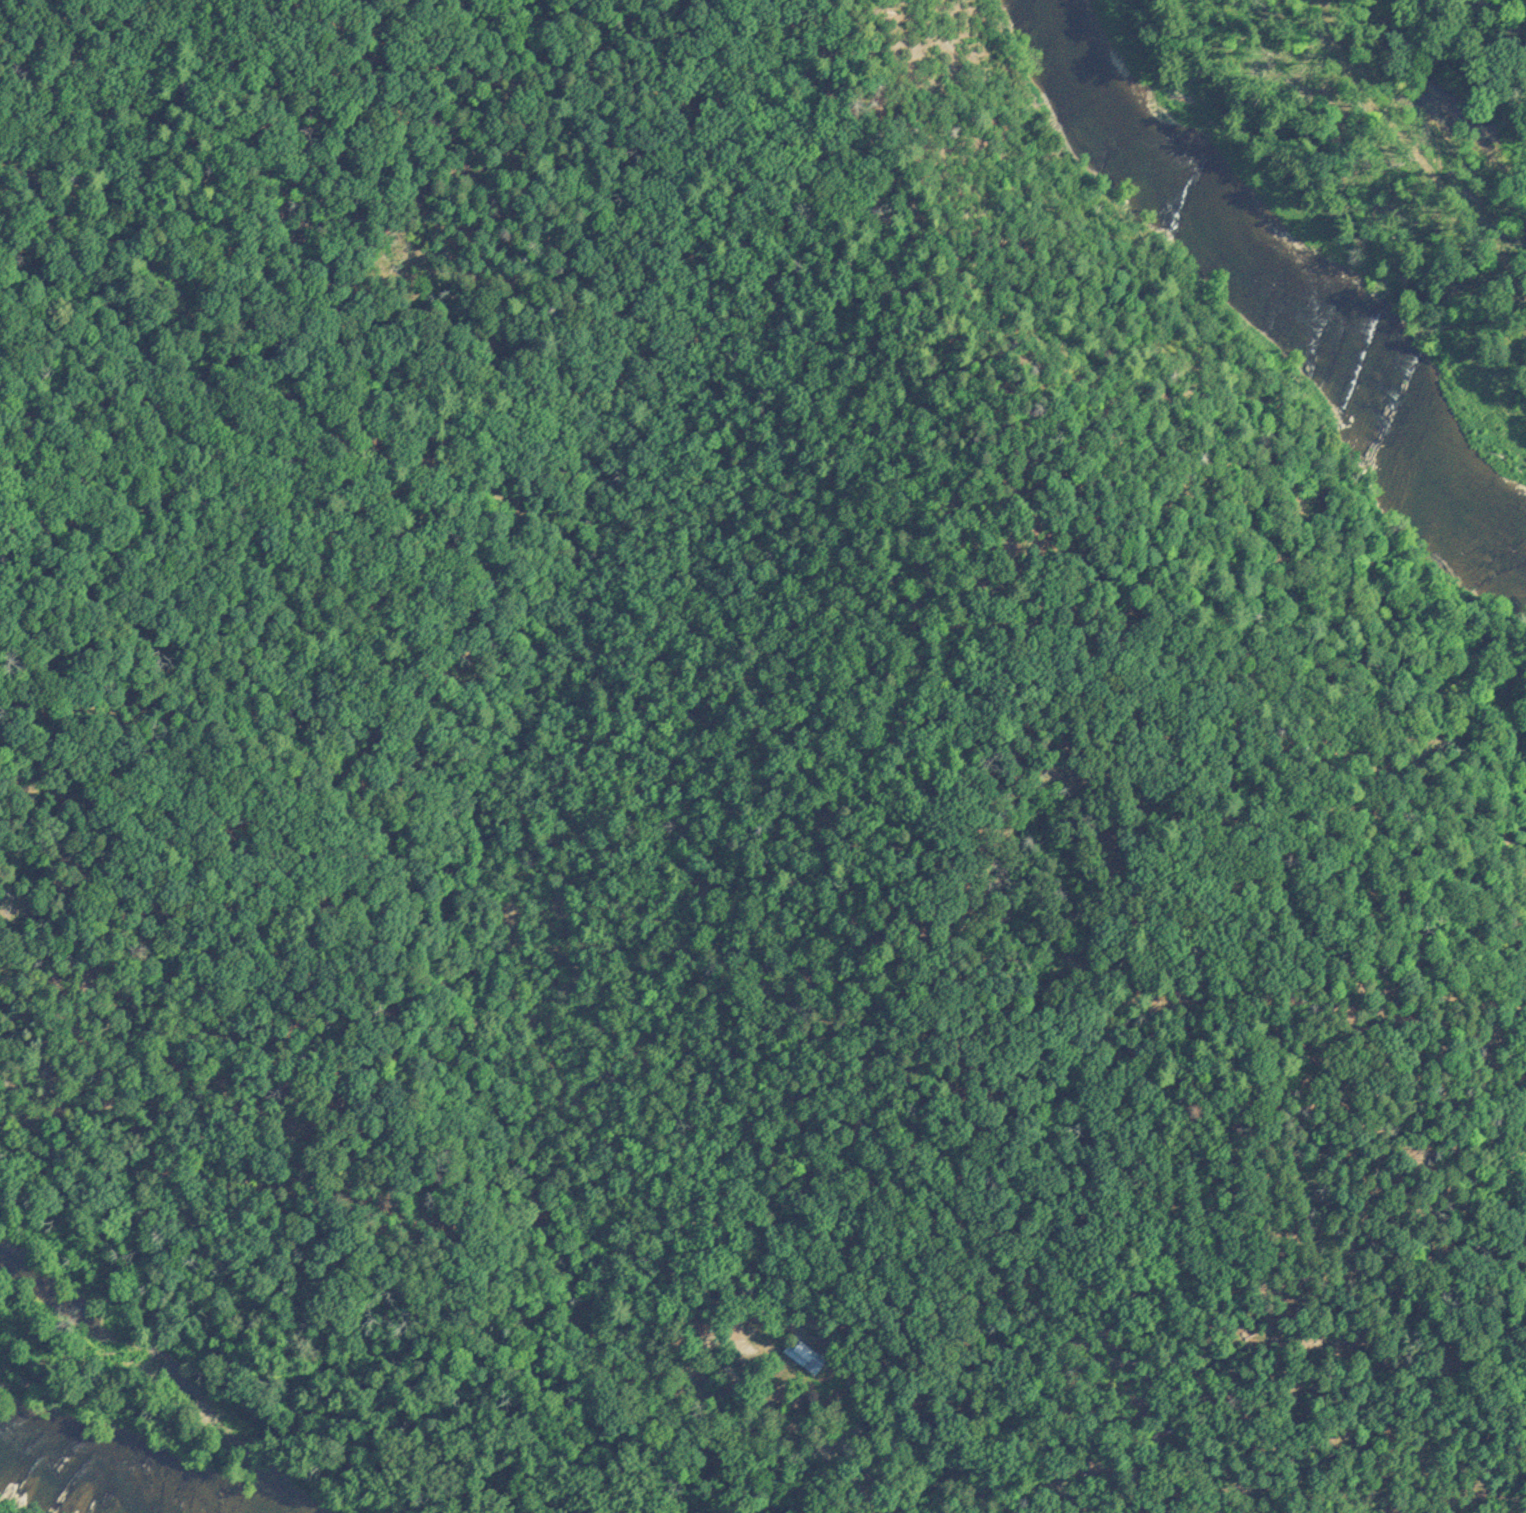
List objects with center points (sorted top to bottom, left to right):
river: (1254, 311)
building: (805, 1354)
river: (61, 1486)

